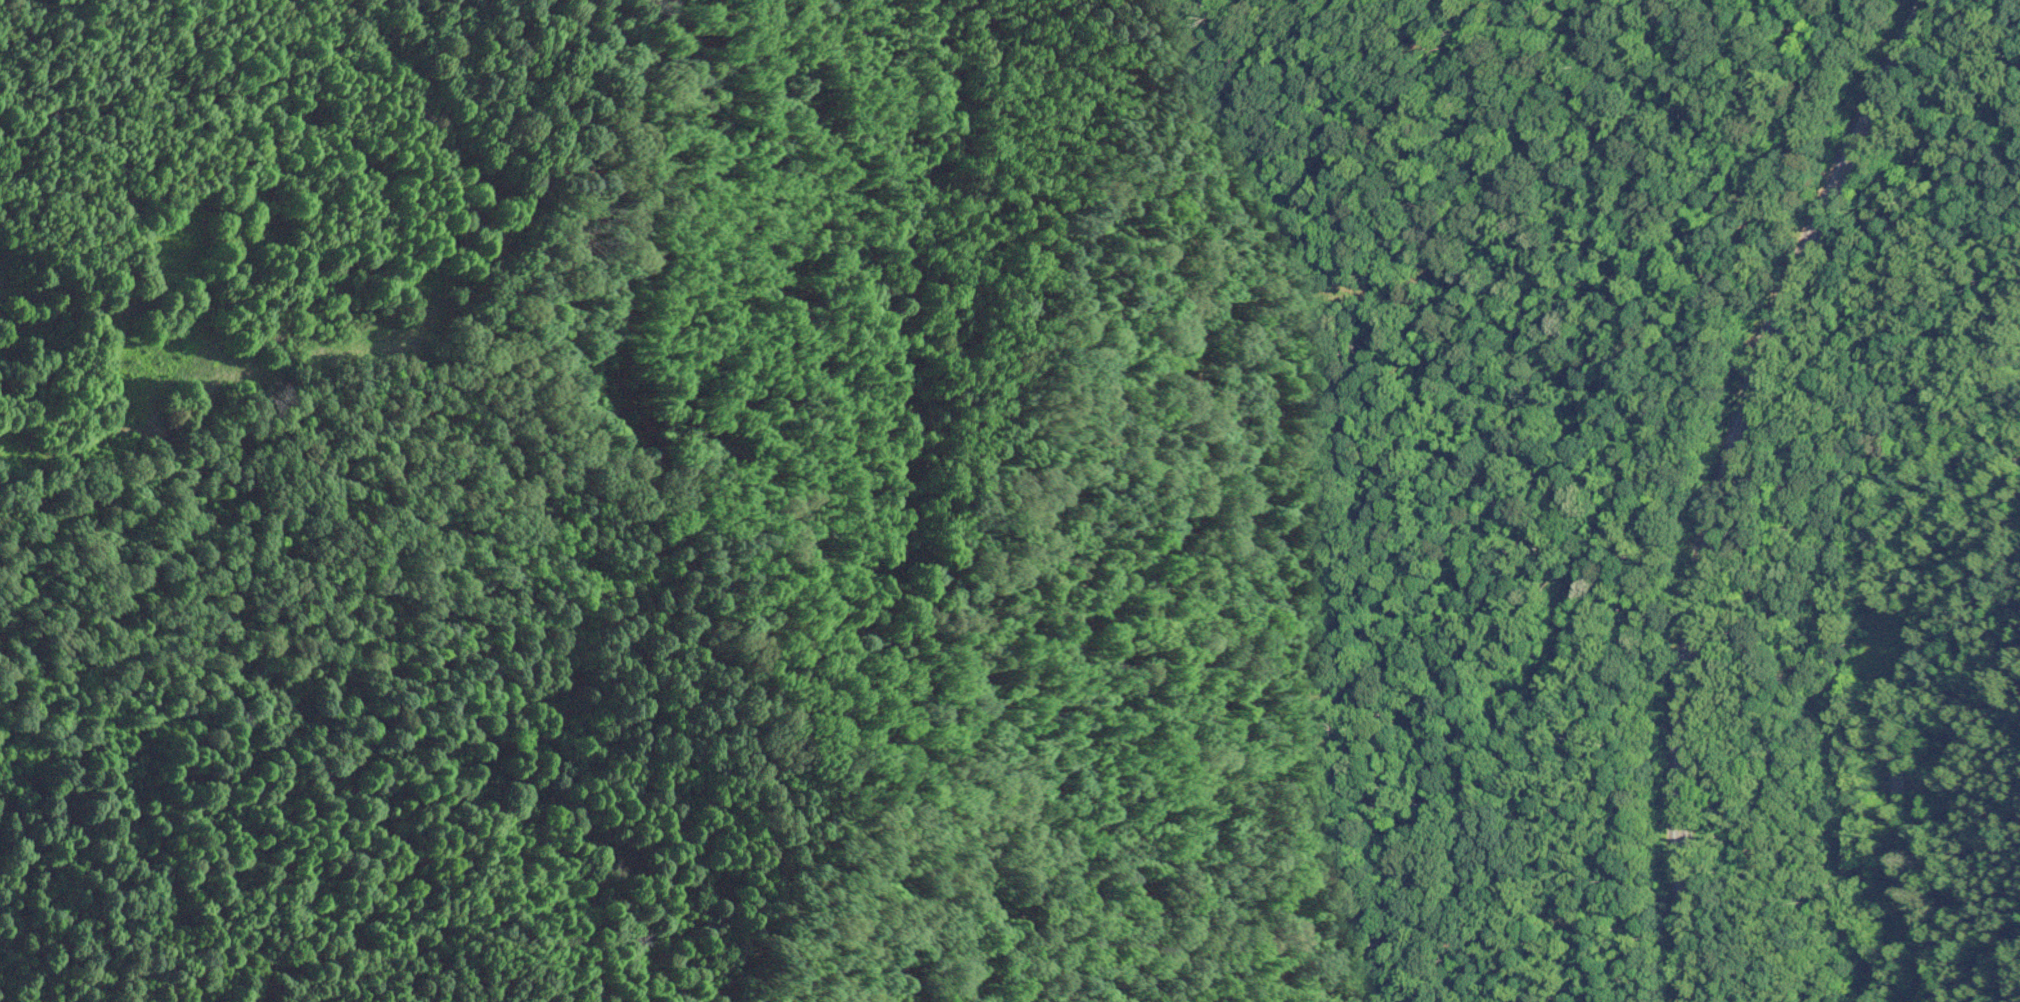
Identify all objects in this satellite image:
road: (1726, 483)
road: (1880, 562)
road: (1894, 724)
road: (1928, 939)

